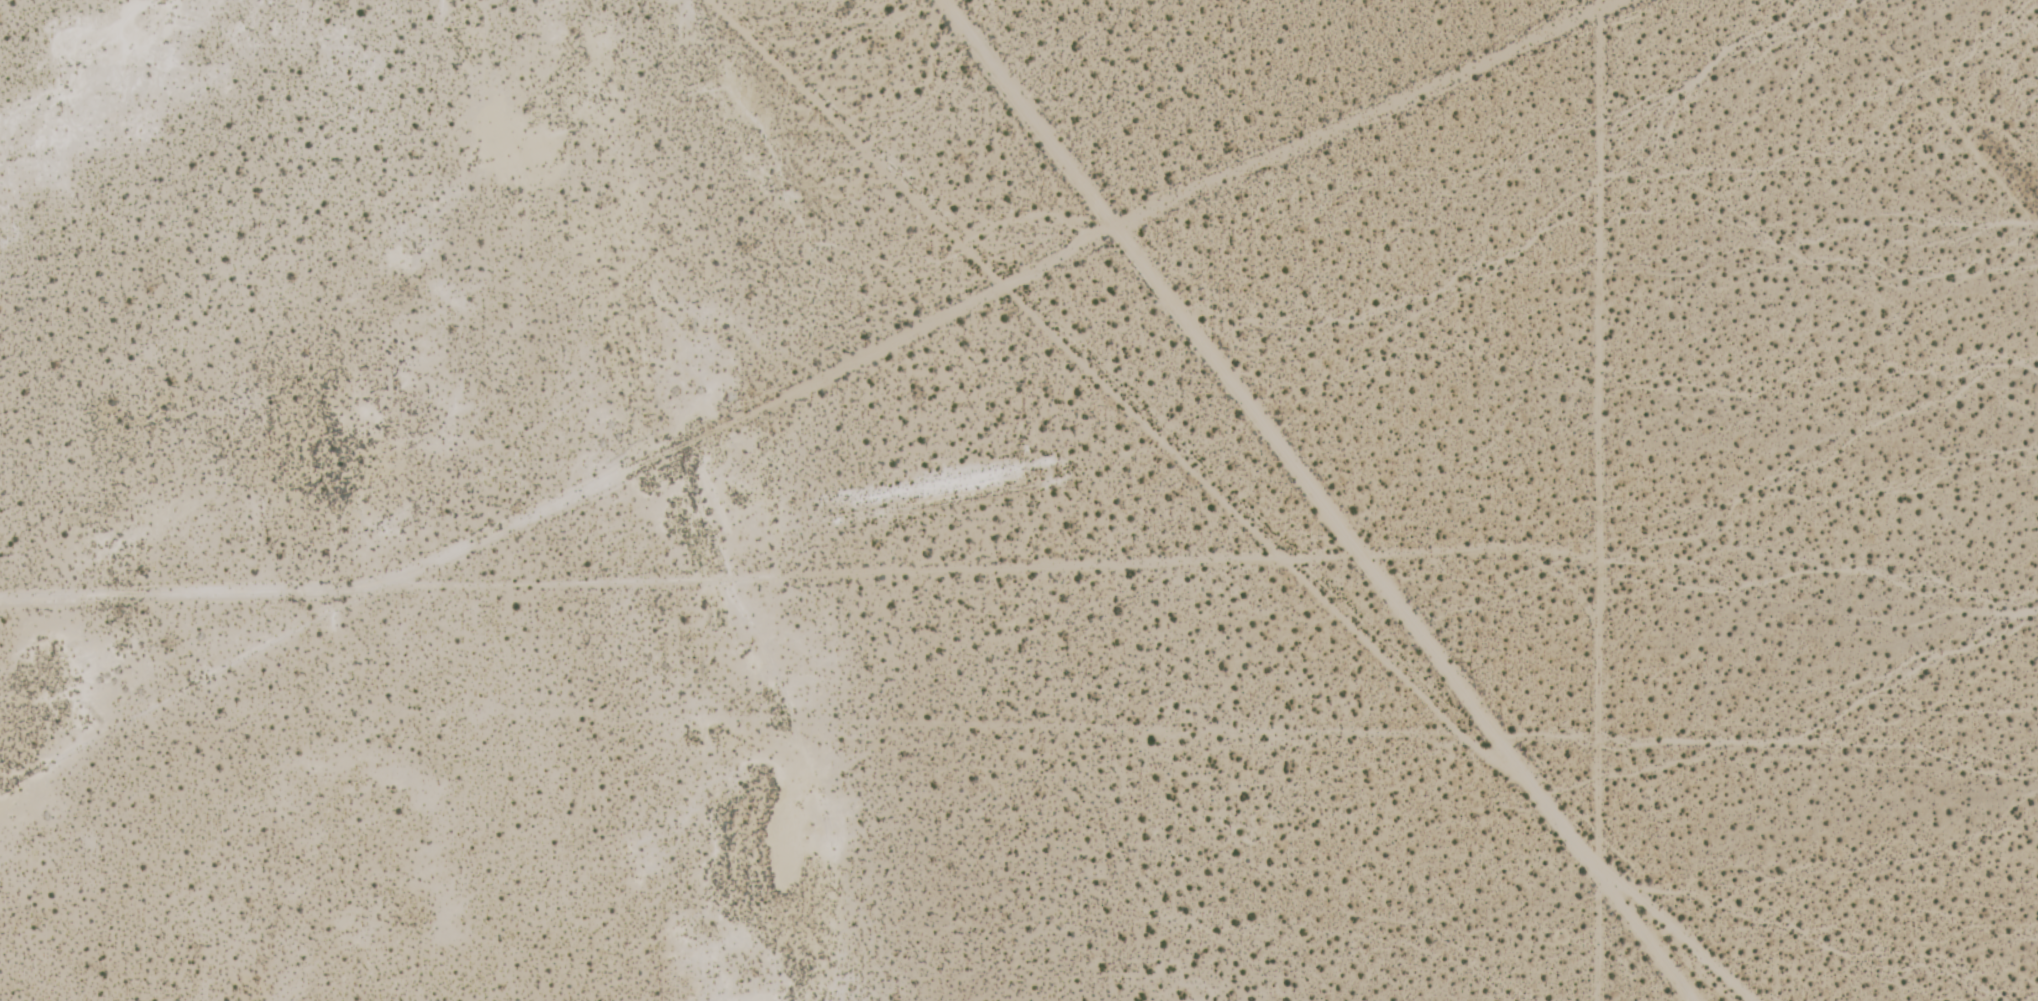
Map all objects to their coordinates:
road: (1614, 500)

